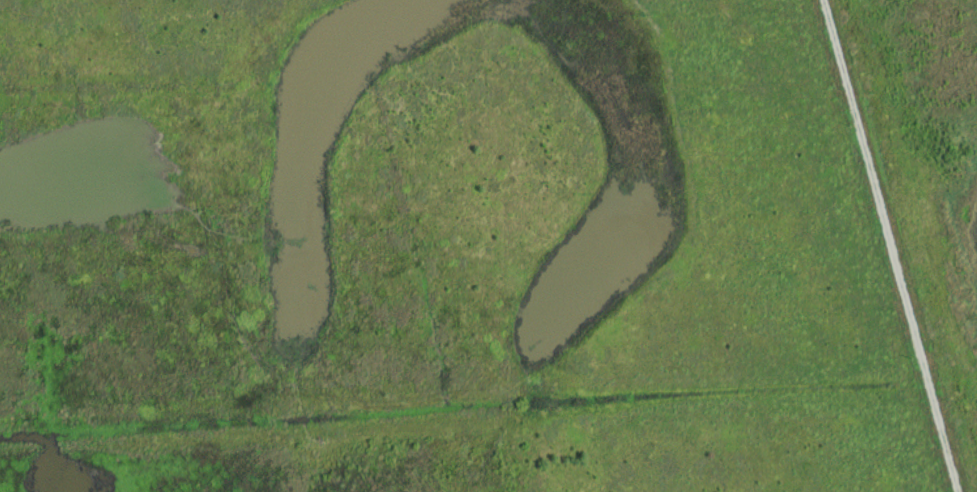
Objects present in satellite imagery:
road: (889, 246)

